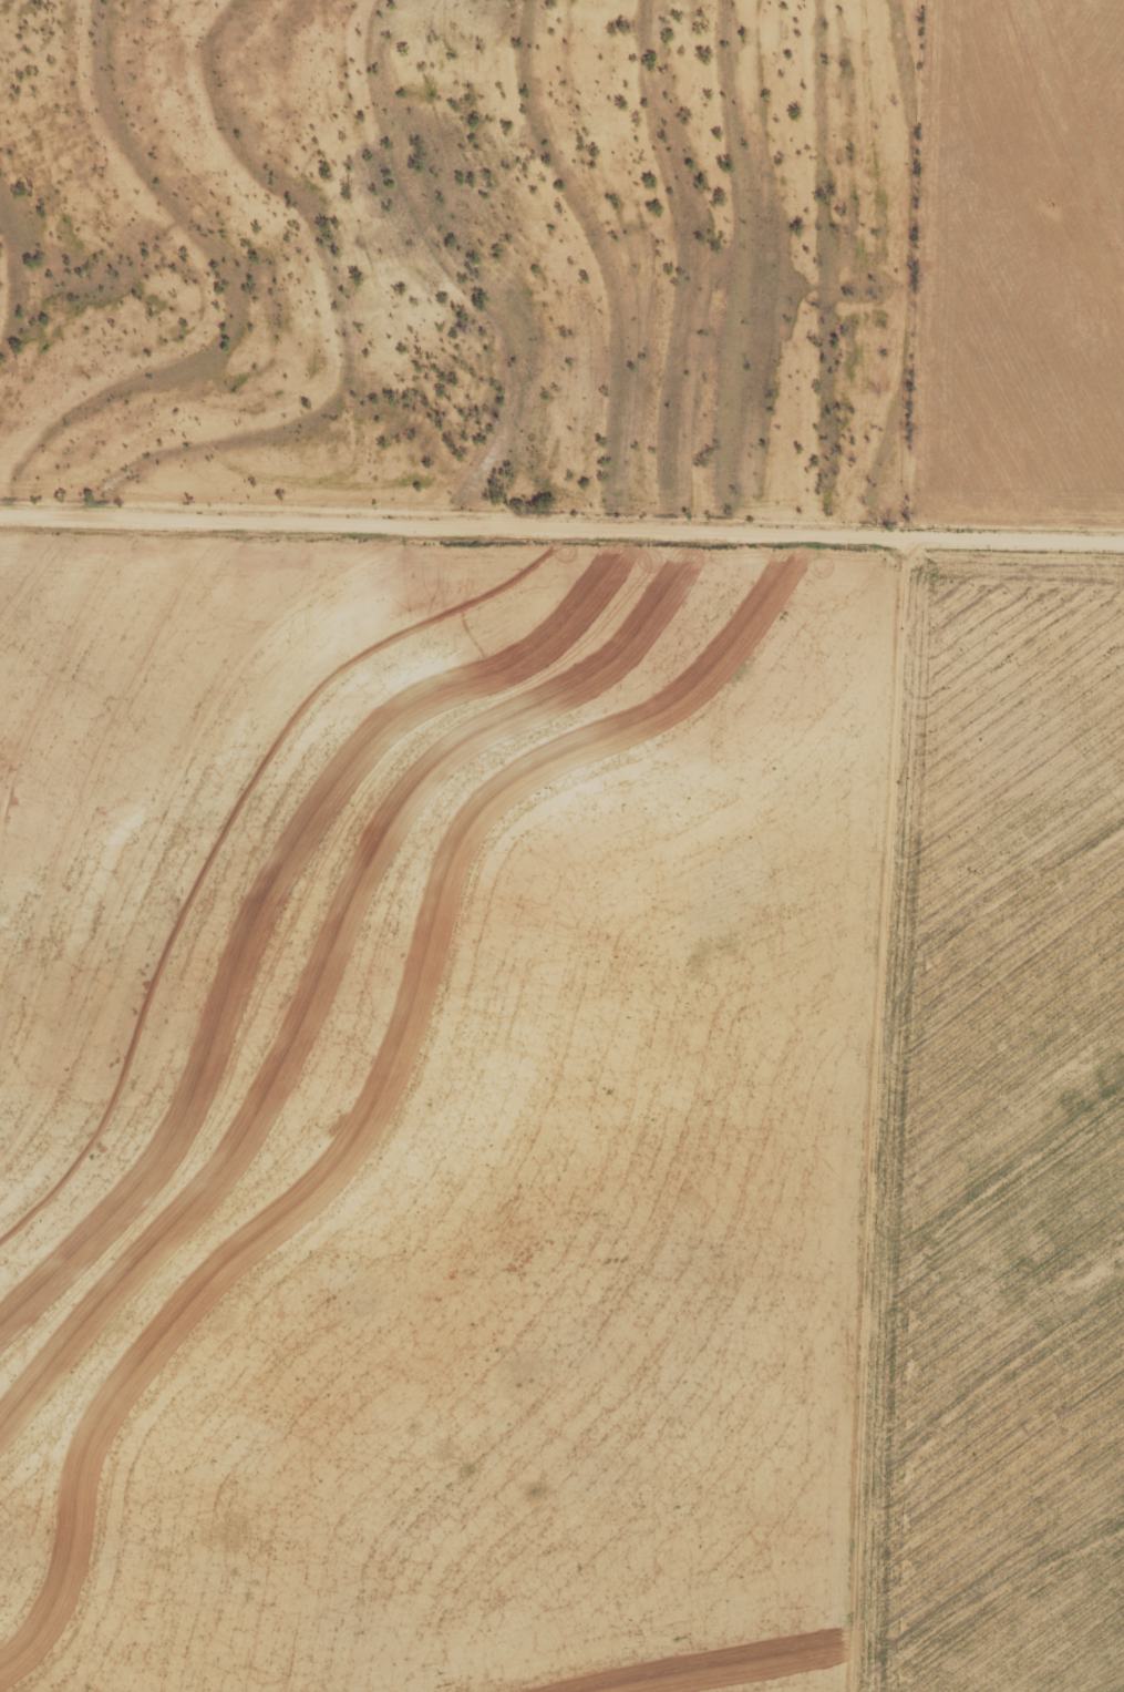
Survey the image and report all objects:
road: (561, 527)

